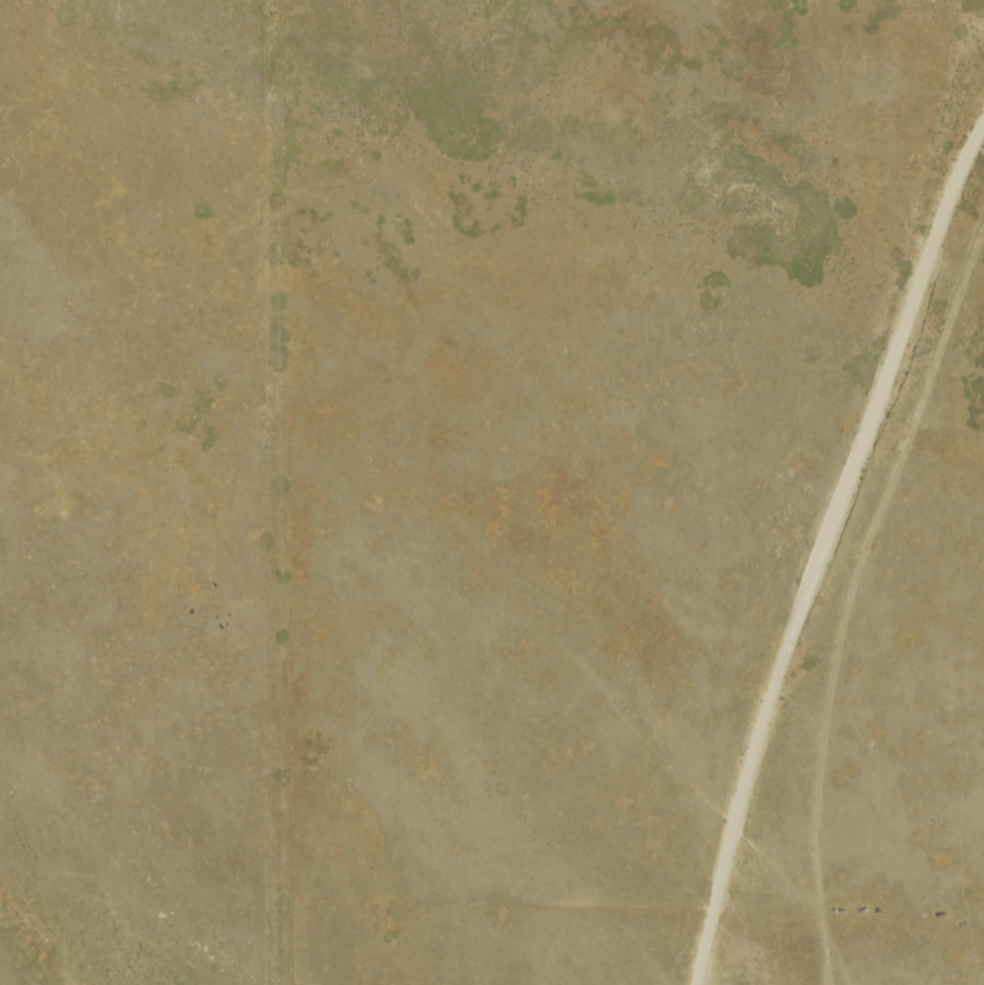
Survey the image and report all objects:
road: (823, 545)

